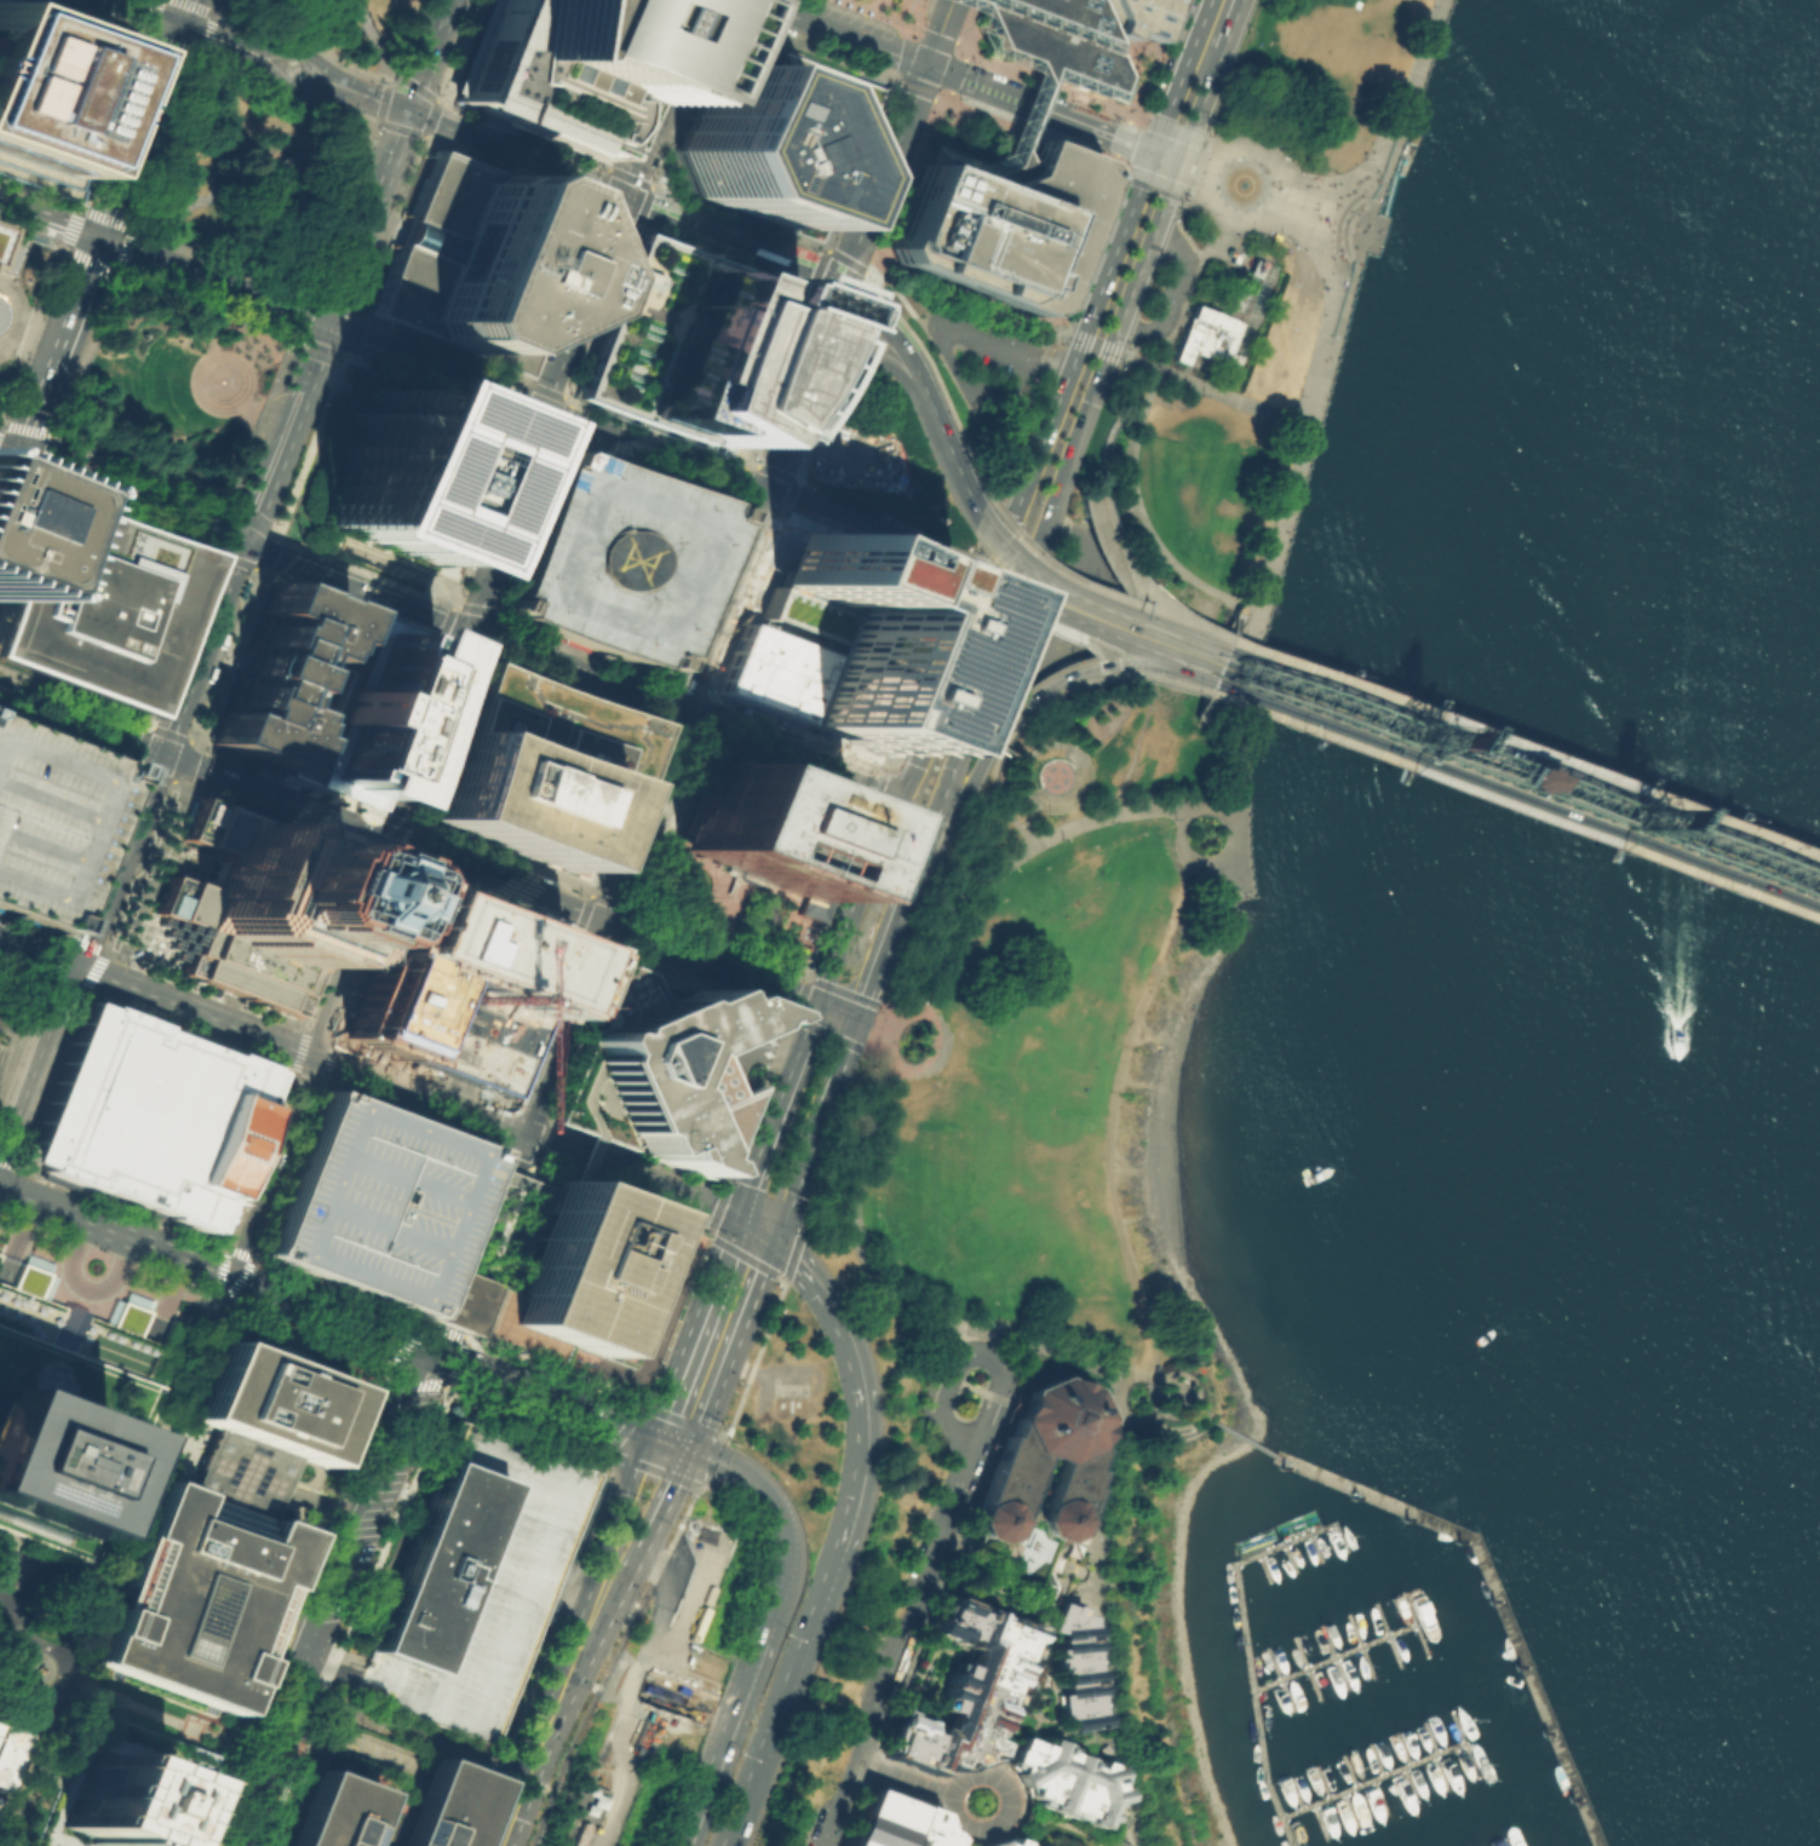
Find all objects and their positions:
road: (184, 1)
road: (217, 6)
road: (228, 6)
road: (150, 12)
road: (722, 12)
road: (897, 13)
road: (99, 16)
building: (1132, 17)
road: (727, 18)
road: (1233, 23)
traffic signals: (182, 24)
park: (337, 24)
road: (912, 24)
road: (844, 30)
road: (938, 30)
road: (214, 36)
road: (305, 38)
road: (372, 39)
road: (404, 39)
road: (188, 48)
road: (299, 51)
road: (429, 56)
traffic signals: (928, 63)
building: (564, 64)
building: (1034, 70)
road: (1040, 73)
road: (1181, 74)
road: (286, 84)
road: (415, 88)
building: (54, 90)
road: (1077, 91)
road: (282, 96)
road: (372, 97)
road: (941, 98)
road: (671, 99)
road: (1202, 102)
road: (225, 110)
road: (1053, 110)
traffic signals: (407, 111)
road: (110, 119)
road: (145, 119)
road: (1032, 131)
building: (775, 133)
road: (166, 140)
road: (561, 143)
road: (911, 145)
road: (318, 146)
traffic signals: (1154, 149)
road: (1378, 151)
pier: (1408, 153)
road: (521, 154)
traffic signals: (1181, 157)
road: (1190, 161)
road: (618, 165)
road: (263, 172)
road: (515, 172)
park: (253, 176)
road: (883, 177)
road: (1396, 178)
fountain: (1242, 183)
road: (39, 191)
road: (1298, 200)
traffic signals: (633, 201)
road: (189, 203)
road: (343, 208)
road: (1270, 212)
road: (1367, 212)
road: (104, 217)
road: (364, 217)
road: (1176, 217)
road: (1376, 217)
road: (48, 219)
road: (392, 225)
building: (997, 226)
road: (30, 236)
traffic signals: (99, 238)
road: (283, 240)
building: (228, 242)
road: (736, 243)
building: (7, 248)
road: (67, 249)
road: (1146, 253)
building: (1230, 254)
road: (731, 255)
road: (823, 258)
building: (482, 261)
road: (222, 263)
building: (1252, 266)
road: (115, 271)
road: (211, 281)
road: (1161, 287)
traffic signals: (839, 291)
road: (970, 293)
parking lot: (1175, 293)
road: (1187, 293)
road: (570, 294)
road: (1328, 295)
road: (311, 297)
road: (205, 306)
road: (863, 306)
road: (614, 311)
traffic signals: (1091, 314)
park: (1248, 316)
traffic signals: (323, 324)
road: (206, 326)
road: (845, 327)
road: (30, 328)
road: (958, 328)
road: (822, 337)
building: (1206, 337)
building: (697, 343)
road: (897, 343)
road: (1093, 344)
road: (59, 347)
road: (449, 347)
road: (1324, 351)
road: (84, 356)
road: (341, 356)
road: (940, 356)
parking lot: (984, 356)
road: (1142, 362)
road: (832, 366)
road: (438, 367)
road: (226, 376)
road: (781, 378)
road: (903, 378)
road: (938, 381)
road: (1150, 387)
park: (171, 389)
road: (431, 390)
road: (1231, 398)
road: (579, 399)
road: (529, 401)
traffic signals: (1090, 402)
road: (248, 403)
road: (1126, 410)
traffic signals: (553, 412)
road: (552, 414)
road: (247, 420)
road: (260, 420)
road: (572, 420)
road: (282, 431)
road: (666, 431)
road: (783, 437)
road: (52, 441)
road: (308, 447)
road: (659, 450)
road: (8, 452)
traffic signals: (18, 456)
road: (952, 464)
road: (6, 471)
road: (1030, 471)
road: (648, 472)
road: (139, 473)
building: (402, 477)
road: (8, 479)
road: (31, 481)
road: (741, 483)
traffic signals: (765, 491)
road: (130, 498)
road: (791, 500)
road: (487, 513)
road: (124, 516)
road: (1104, 517)
road: (977, 519)
road: (777, 521)
road: (1108, 522)
road: (529, 524)
road: (1006, 527)
road: (17, 528)
road: (987, 530)
road: (889, 535)
road: (1150, 535)
road: (1010, 537)
traffic signals: (242, 540)
road: (885, 545)
road: (271, 546)
road: (863, 553)
helipad: (618, 558)
building: (616, 559)
parking lot: (616, 559)
road: (1015, 563)
road: (363, 570)
road: (5, 571)
road: (396, 571)
road: (356, 583)
road: (1138, 583)
road: (1005, 586)
road: (1097, 591)
road: (701, 592)
road: (1016, 597)
road: (723, 599)
building: (93, 602)
road: (1062, 603)
road: (458, 604)
road: (351, 605)
road: (1081, 609)
road: (1039, 611)
road: (949, 616)
road: (1024, 620)
road: (1096, 623)
road: (1193, 623)
road: (1165, 627)
traffic signals: (471, 628)
road: (1224, 636)
road: (1241, 636)
road: (179, 637)
building: (833, 642)
road: (1160, 643)
road: (582, 644)
road: (226, 656)
road: (1130, 659)
road: (1164, 663)
road: (1097, 666)
road: (576, 667)
road: (1067, 672)
building: (279, 674)
road: (1115, 674)
road: (1327, 675)
road: (668, 678)
road: (1167, 679)
road: (1324, 685)
road: (1052, 691)
traffic signals: (1287, 691)
road: (1204, 694)
road: (73, 695)
road: (1225, 702)
road: (1316, 702)
building: (358, 706)
traffic signals: (1280, 707)
traffic signals: (683, 708)
traffic signals: (1276, 717)
road: (1311, 718)
road: (1242, 721)
road: (147, 723)
road: (410, 726)
road: (1308, 728)
road: (994, 730)
road: (431, 734)
road: (1000, 736)
road: (65, 738)
road: (189, 748)
road: (792, 749)
traffic signals: (161, 752)
road: (895, 752)
road: (160, 753)
road: (1533, 753)
road: (1529, 761)
road: (195, 764)
building: (534, 766)
road: (142, 769)
road: (882, 772)
road: (286, 777)
road: (1523, 778)
road: (179, 783)
road: (994, 786)
traffic signals: (902, 790)
road: (1517, 795)
road: (1514, 804)
road: (642, 813)
road: (909, 813)
road: (1023, 816)
building: (47, 818)
parking lot: (47, 818)
road: (272, 821)
road: (1728, 824)
road: (371, 834)
road: (1726, 834)
building: (765, 838)
traffic signals: (391, 839)
traffic signals: (1768, 840)
road: (1701, 845)
road: (1234, 850)
traffic signals: (1766, 850)
road: (98, 851)
road: (1207, 862)
traffic signals: (1759, 867)
road: (151, 869)
road: (1719, 869)
road: (928, 873)
road: (496, 879)
road: (1718, 879)
road: (1798, 880)
flagpole: (711, 881)
flagpole: (707, 892)
road: (856, 893)
flagpole: (704, 903)
building: (249, 905)
road: (879, 912)
flagpole: (699, 914)
traffic signals: (602, 920)
road: (33, 924)
road: (945, 928)
road: (329, 939)
road: (90, 945)
road: (350, 945)
road: (40, 951)
road: (111, 951)
road: (708, 959)
traffic signals: (80, 967)
road: (19, 970)
road: (54, 984)
building: (450, 985)
road: (207, 988)
road: (33, 994)
road: (849, 999)
traffic signals: (815, 1000)
road: (13, 1005)
road: (829, 1005)
road: (194, 1011)
traffic signals: (844, 1011)
park: (15, 1017)
road: (863, 1018)
road: (302, 1025)
road: (561, 1026)
road: (312, 1029)
road: (185, 1034)
road: (880, 1039)
road: (756, 1043)
road: (934, 1047)
road: (13, 1048)
road: (825, 1062)
road: (39, 1071)
road: (292, 1072)
building: (659, 1075)
road: (47, 1079)
flagpole: (754, 1079)
flagpole: (748, 1082)
flagpole: (742, 1086)
road: (453, 1093)
road: (771, 1112)
road: (700, 1114)
building: (150, 1117)
road: (404, 1117)
river: (1797, 1117)
park: (1067, 1121)
road: (1107, 1122)
traffic signals: (521, 1134)
road: (532, 1138)
road: (741, 1158)
road: (258, 1160)
road: (268, 1161)
road: (584, 1161)
road: (6, 1163)
road: (535, 1168)
road: (286, 1171)
road: (783, 1173)
road: (849, 1178)
road: (513, 1180)
road: (852, 1195)
road: (620, 1198)
road: (120, 1204)
road: (493, 1204)
building: (379, 1212)
parking lot: (379, 1212)
traffic signals: (752, 1229)
road: (803, 1233)
road: (17, 1237)
road: (460, 1237)
road: (793, 1247)
road: (500, 1252)
road: (240, 1253)
road: (111, 1259)
road: (219, 1265)
traffic signals: (228, 1270)
road: (85, 1286)
building: (592, 1288)
road: (340, 1290)
road: (458, 1301)
road: (214, 1310)
road: (673, 1318)
road: (447, 1329)
road: (305, 1330)
road: (712, 1335)
road: (957, 1335)
road: (442, 1338)
road: (1037, 1340)
traffic signals: (438, 1350)
building: (291, 1361)
road: (1021, 1363)
road: (855, 1369)
road: (555, 1371)
building: (337, 1379)
road: (999, 1380)
road: (555, 1393)
building: (270, 1402)
road: (179, 1403)
road: (940, 1404)
building: (70, 1408)
road: (1127, 1414)
road: (1171, 1432)
traffic signals: (670, 1442)
road: (1248, 1442)
road: (963, 1471)
road: (707, 1472)
road: (670, 1474)
building: (256, 1478)
building: (1032, 1483)
road: (707, 1488)
road: (361, 1490)
road: (621, 1499)
road: (707, 1509)
road: (773, 1512)
road: (659, 1518)
flagpole: (315, 1519)
flagpole: (327, 1524)
pier: (1299, 1525)
road: (937, 1541)
pier: (1256, 1542)
road: (1091, 1547)
pier: (1264, 1552)
road: (665, 1566)
road: (1070, 1568)
road: (52, 1572)
building: (472, 1581)
road: (27, 1593)
building: (196, 1597)
road: (1081, 1600)
road: (914, 1604)
road: (1097, 1608)
pier: (1509, 1621)
road: (19, 1622)
park: (40, 1623)
road: (1034, 1643)
road: (36, 1645)
road: (329, 1654)
pier: (1344, 1654)
road: (608, 1662)
parking lot: (656, 1670)
road: (889, 1674)
road: (81, 1685)
building: (963, 1686)
road: (1050, 1687)
road: (31, 1689)
road: (645, 1690)
road: (783, 1696)
road: (65, 1700)
road: (272, 1703)
pier: (1258, 1706)
road: (550, 1709)
road: (1032, 1713)
road: (294, 1726)
road: (1033, 1726)
road: (194, 1729)
road: (395, 1730)
building: (1070, 1733)
road: (1093, 1737)
road: (724, 1742)
road: (241, 1747)
building: (10, 1752)
road: (856, 1760)
road: (351, 1761)
road: (562, 1766)
road: (602, 1771)
road: (516, 1775)
road: (903, 1777)
pier: (1382, 1777)
road: (538, 1783)
building: (126, 1787)
parking lot: (126, 1787)
road: (952, 1789)
road: (565, 1794)
building: (590, 1800)
building: (0, 1801)
road: (230, 1806)
building: (442, 1806)
road: (257, 1812)
building: (328, 1812)
building: (879, 1819)
road: (1070, 1823)
road: (832, 1825)
building: (926, 1829)
road: (1038, 1830)
road: (963, 1836)
building: (1005, 1841)
pier: (1506, 1841)
building: (1114, 1842)
road: (1114, 1844)
road: (1098, 1845)

